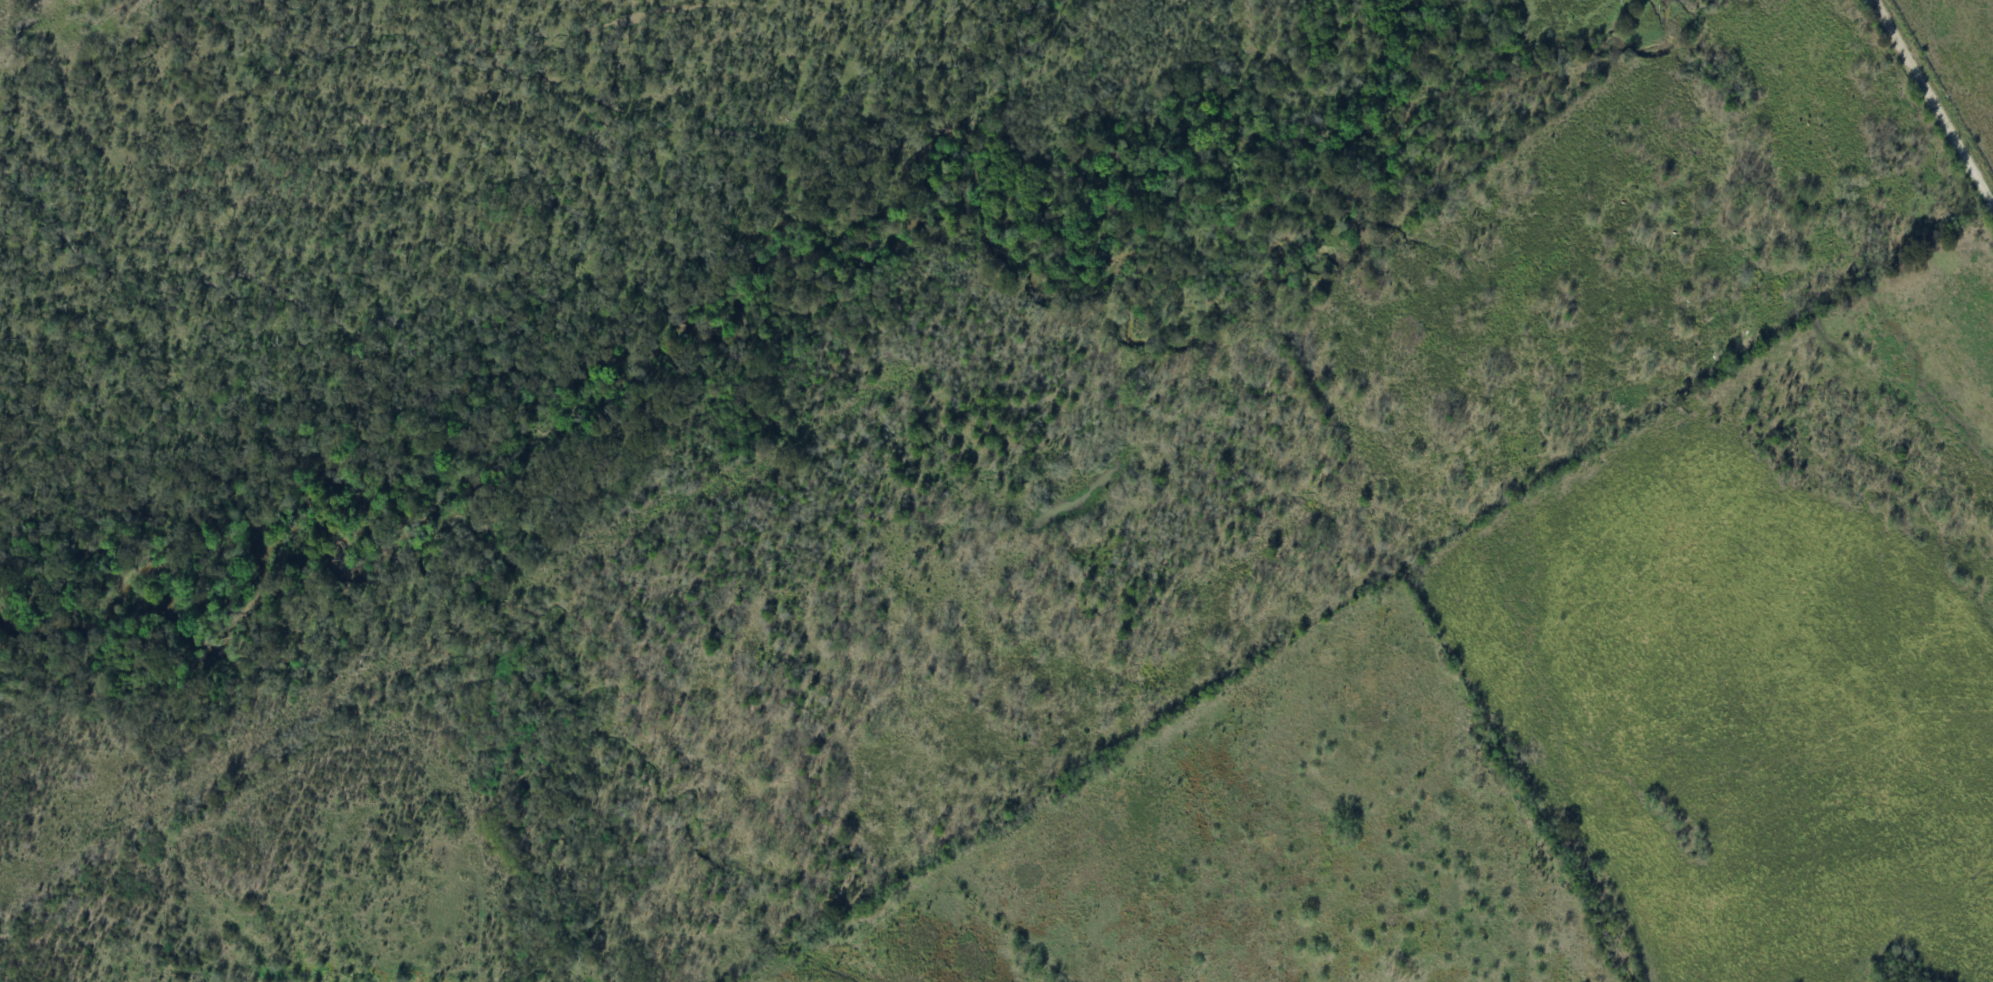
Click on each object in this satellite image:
road: (1937, 94)

